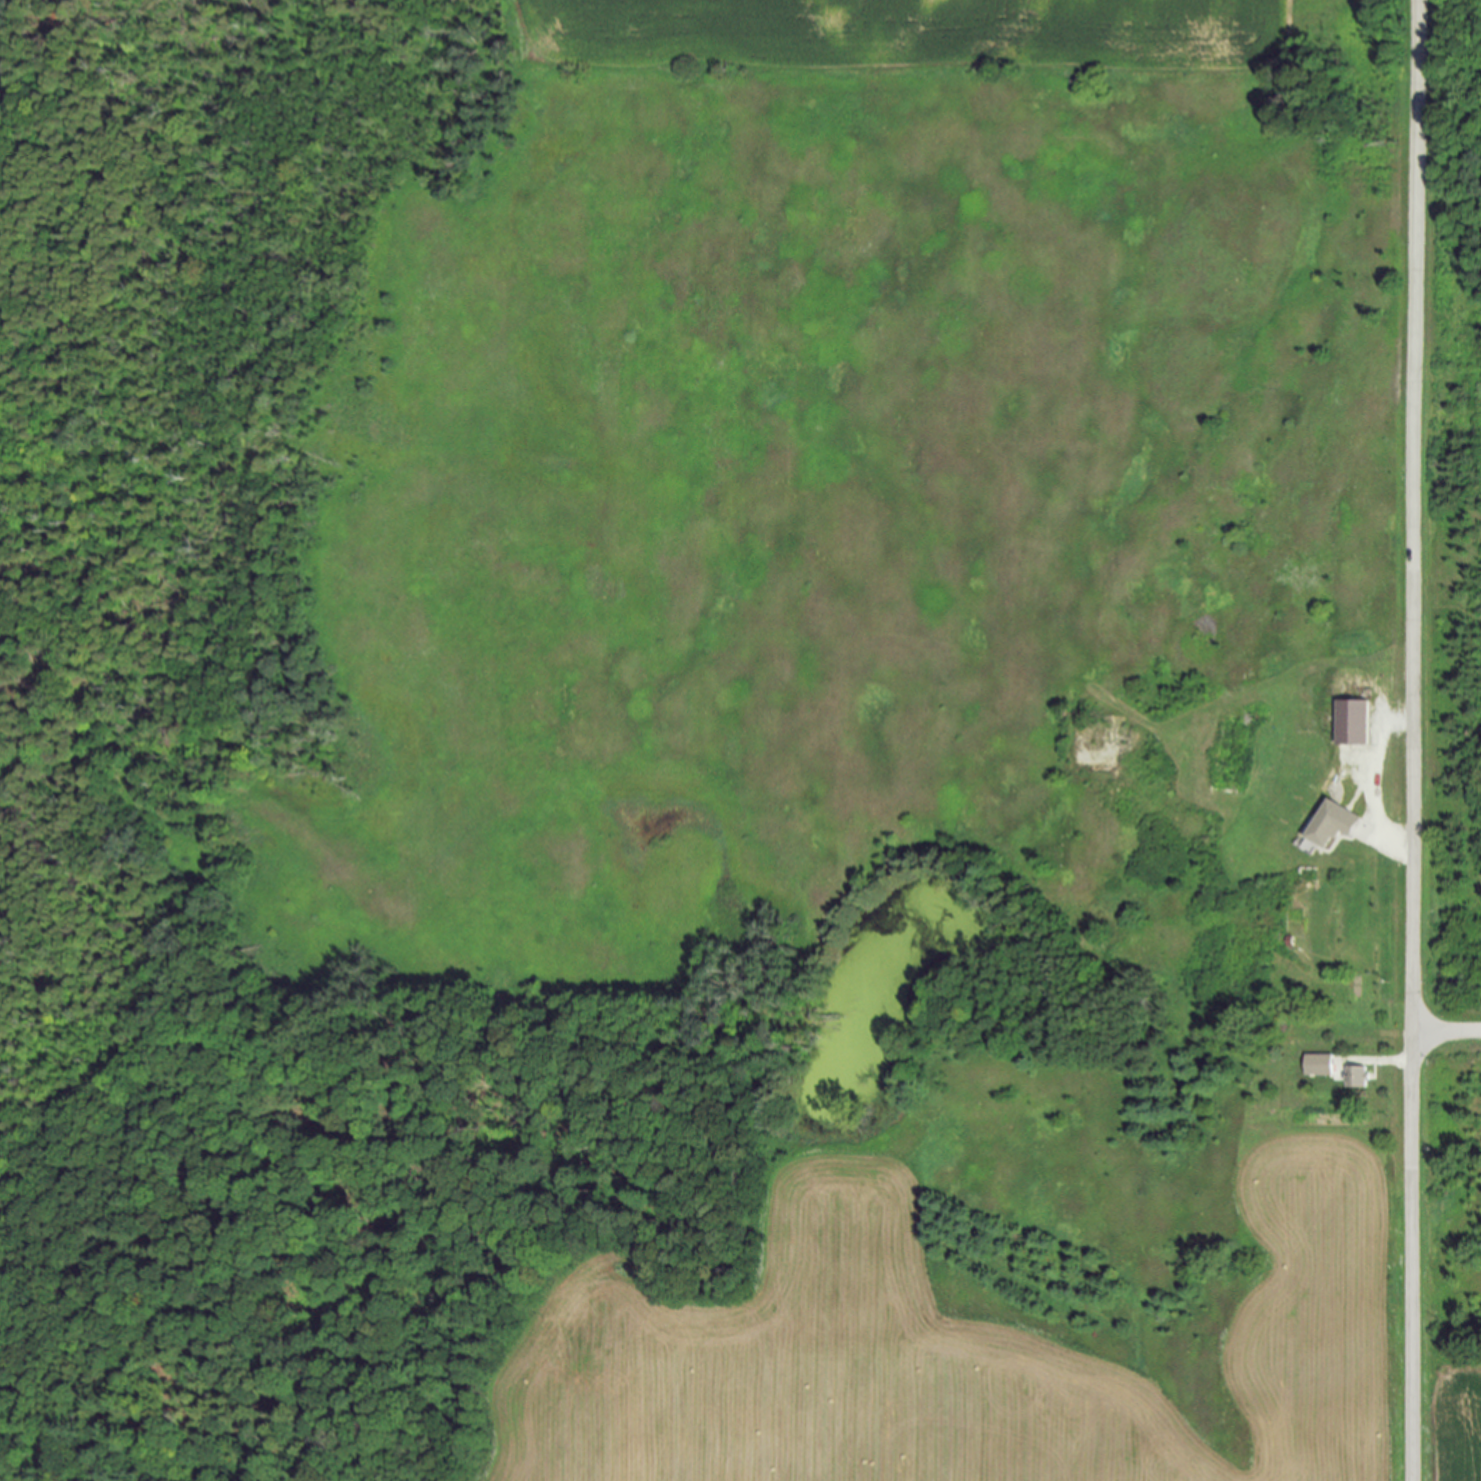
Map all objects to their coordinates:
power tower: (1397, 143)
building: (1353, 722)
road: (1414, 740)
building: (1332, 825)
road: (1447, 1031)
road: (1384, 1063)
building: (1319, 1066)
building: (1358, 1078)

